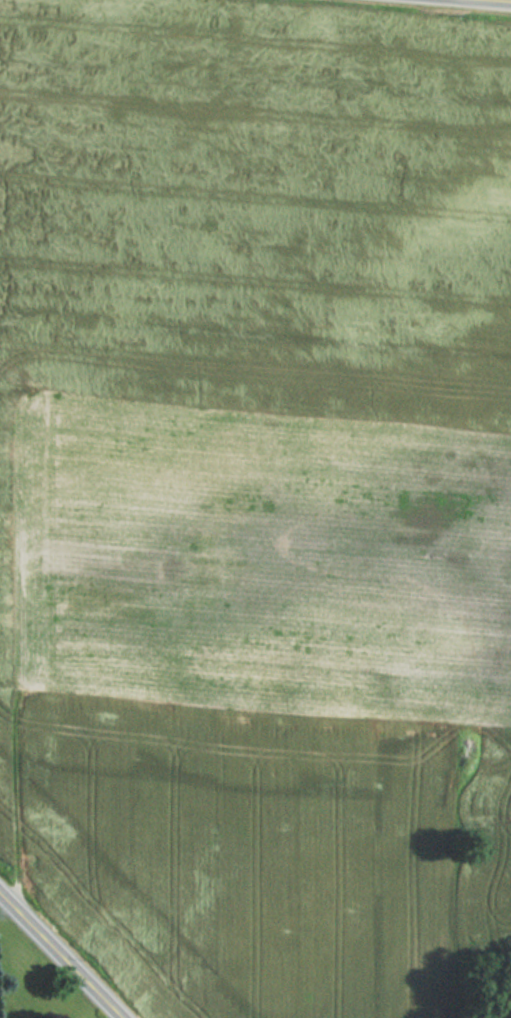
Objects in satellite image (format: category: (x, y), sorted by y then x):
road: (64, 952)

